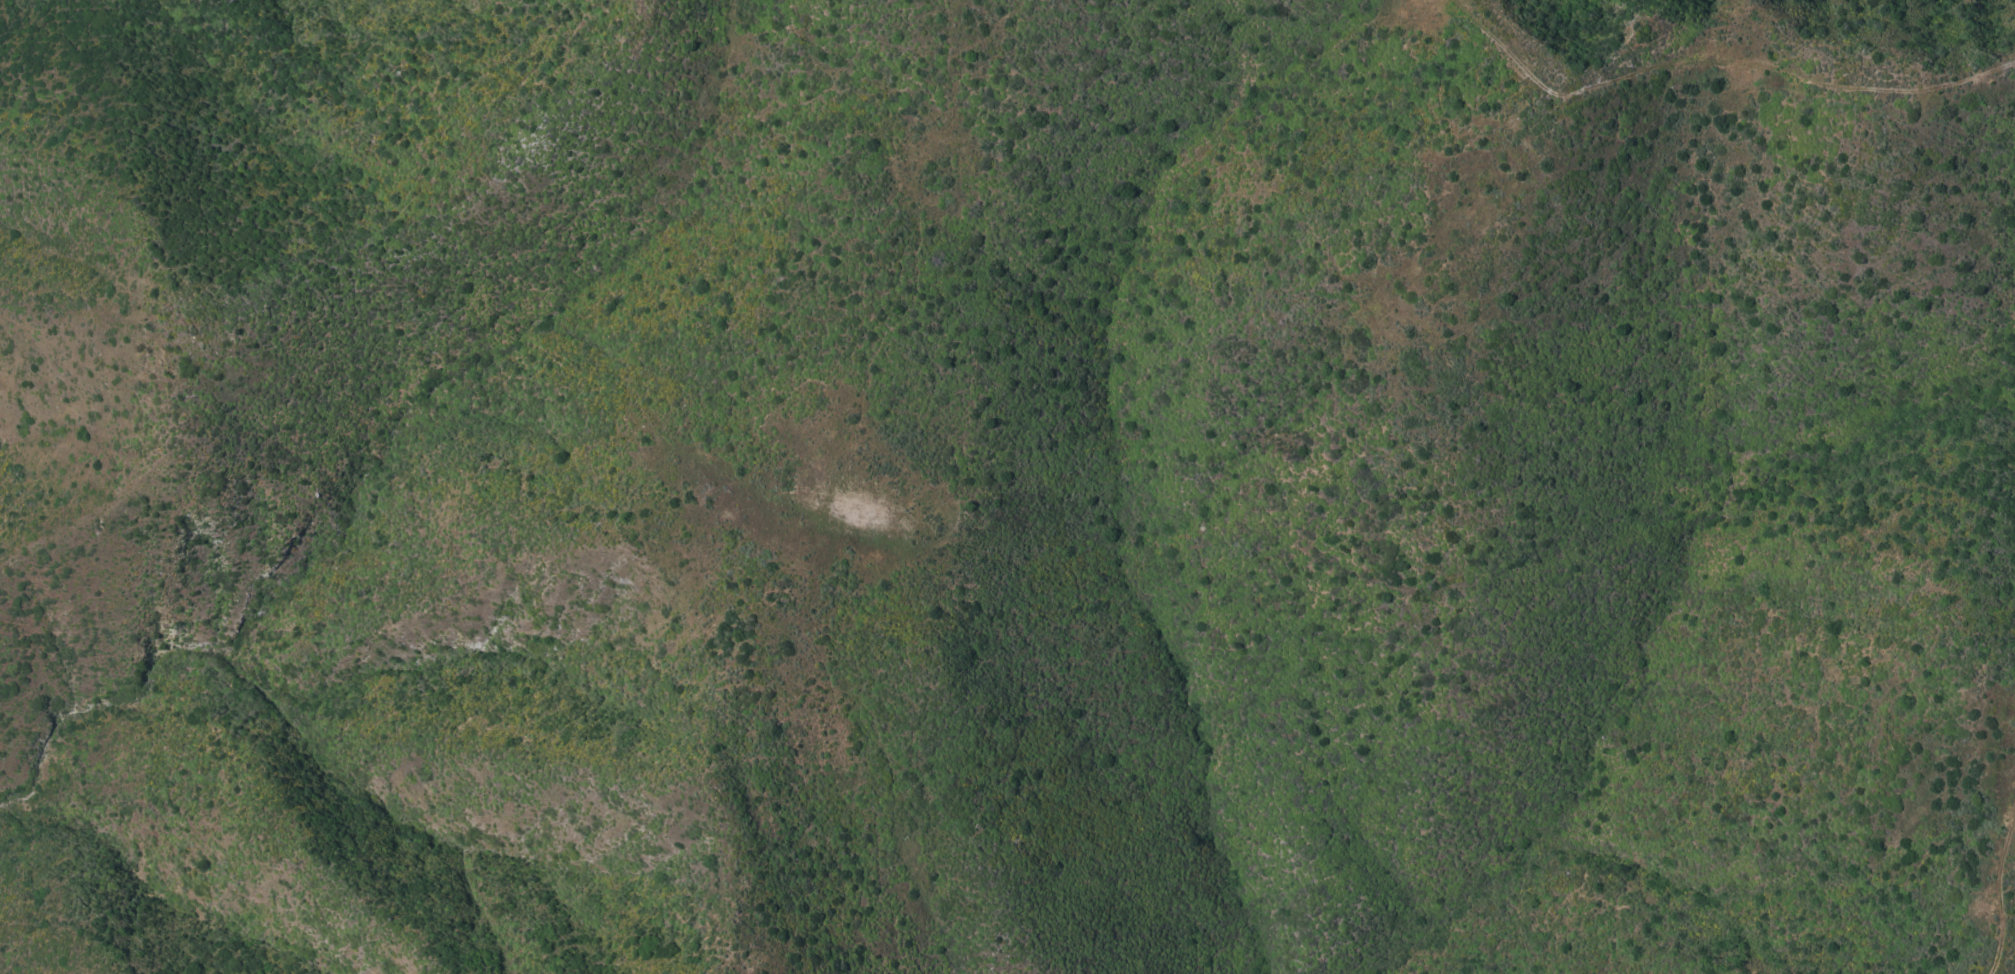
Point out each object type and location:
road: (2000, 889)

